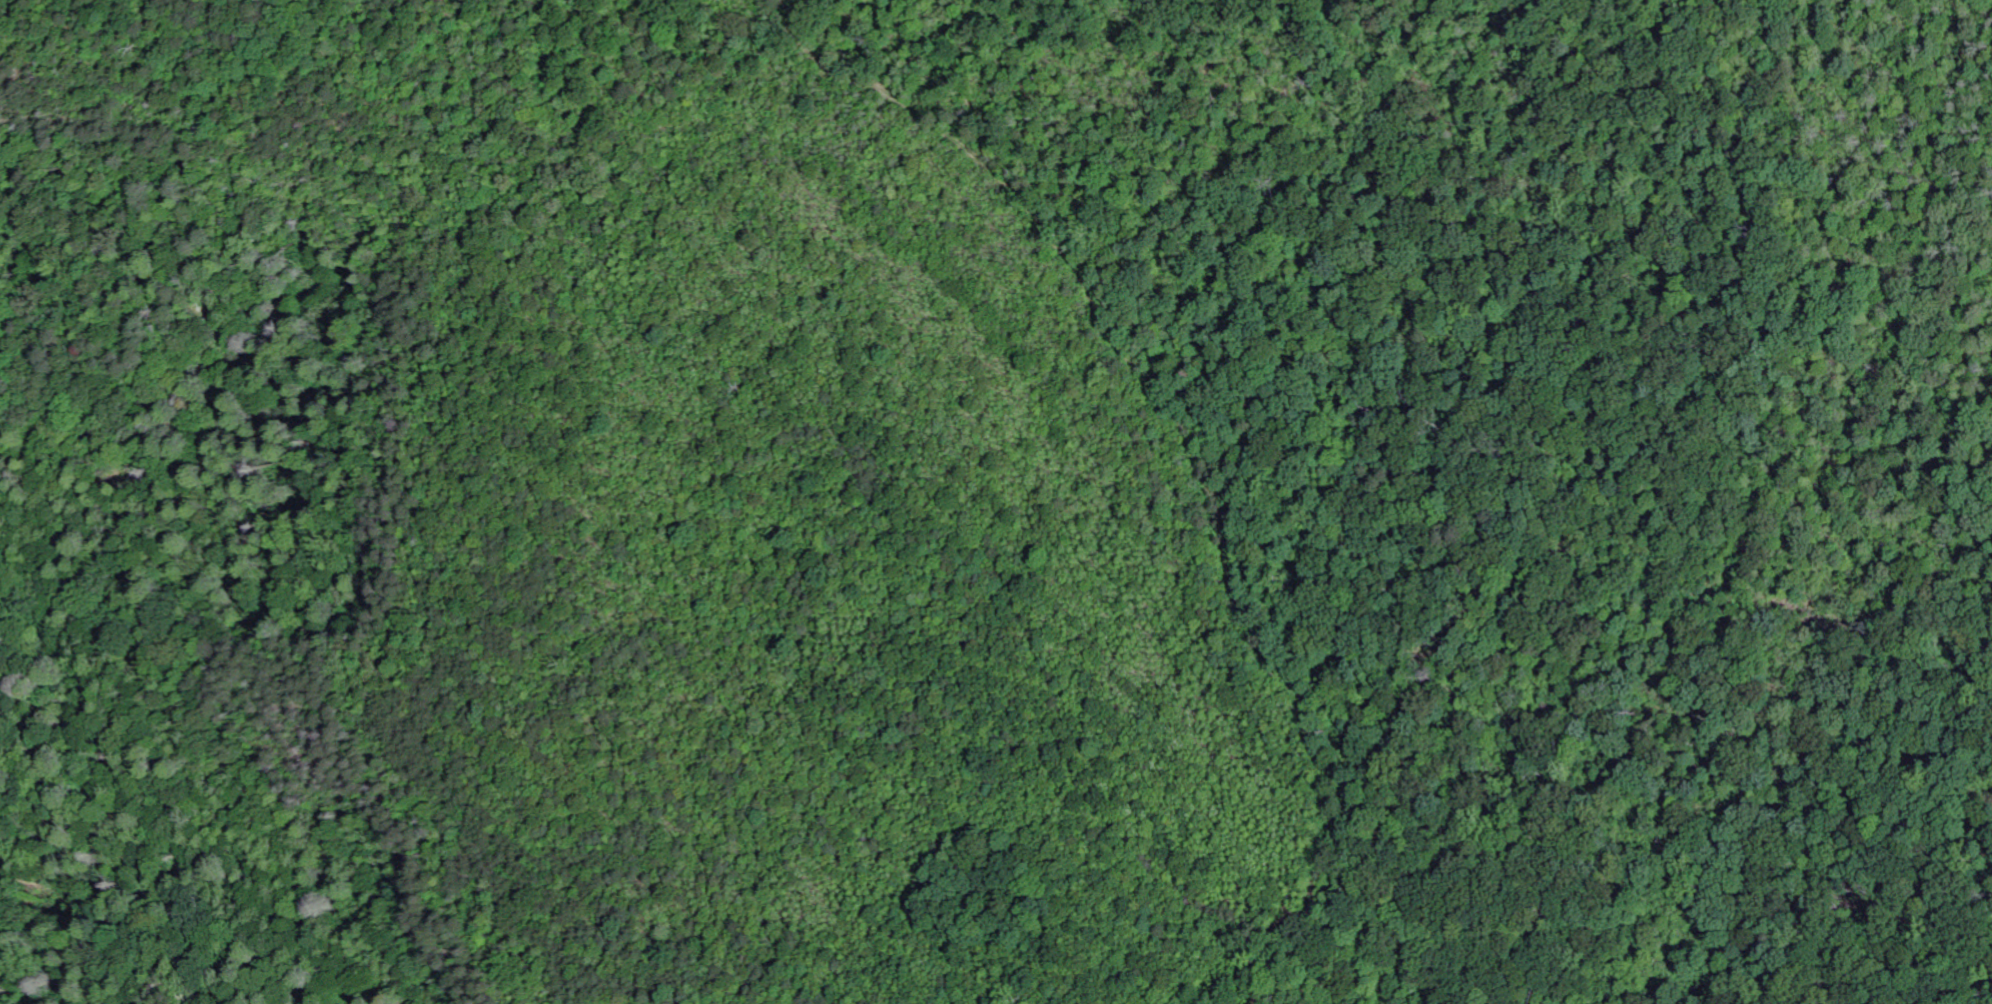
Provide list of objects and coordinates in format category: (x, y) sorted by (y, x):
park: (203, 615)

